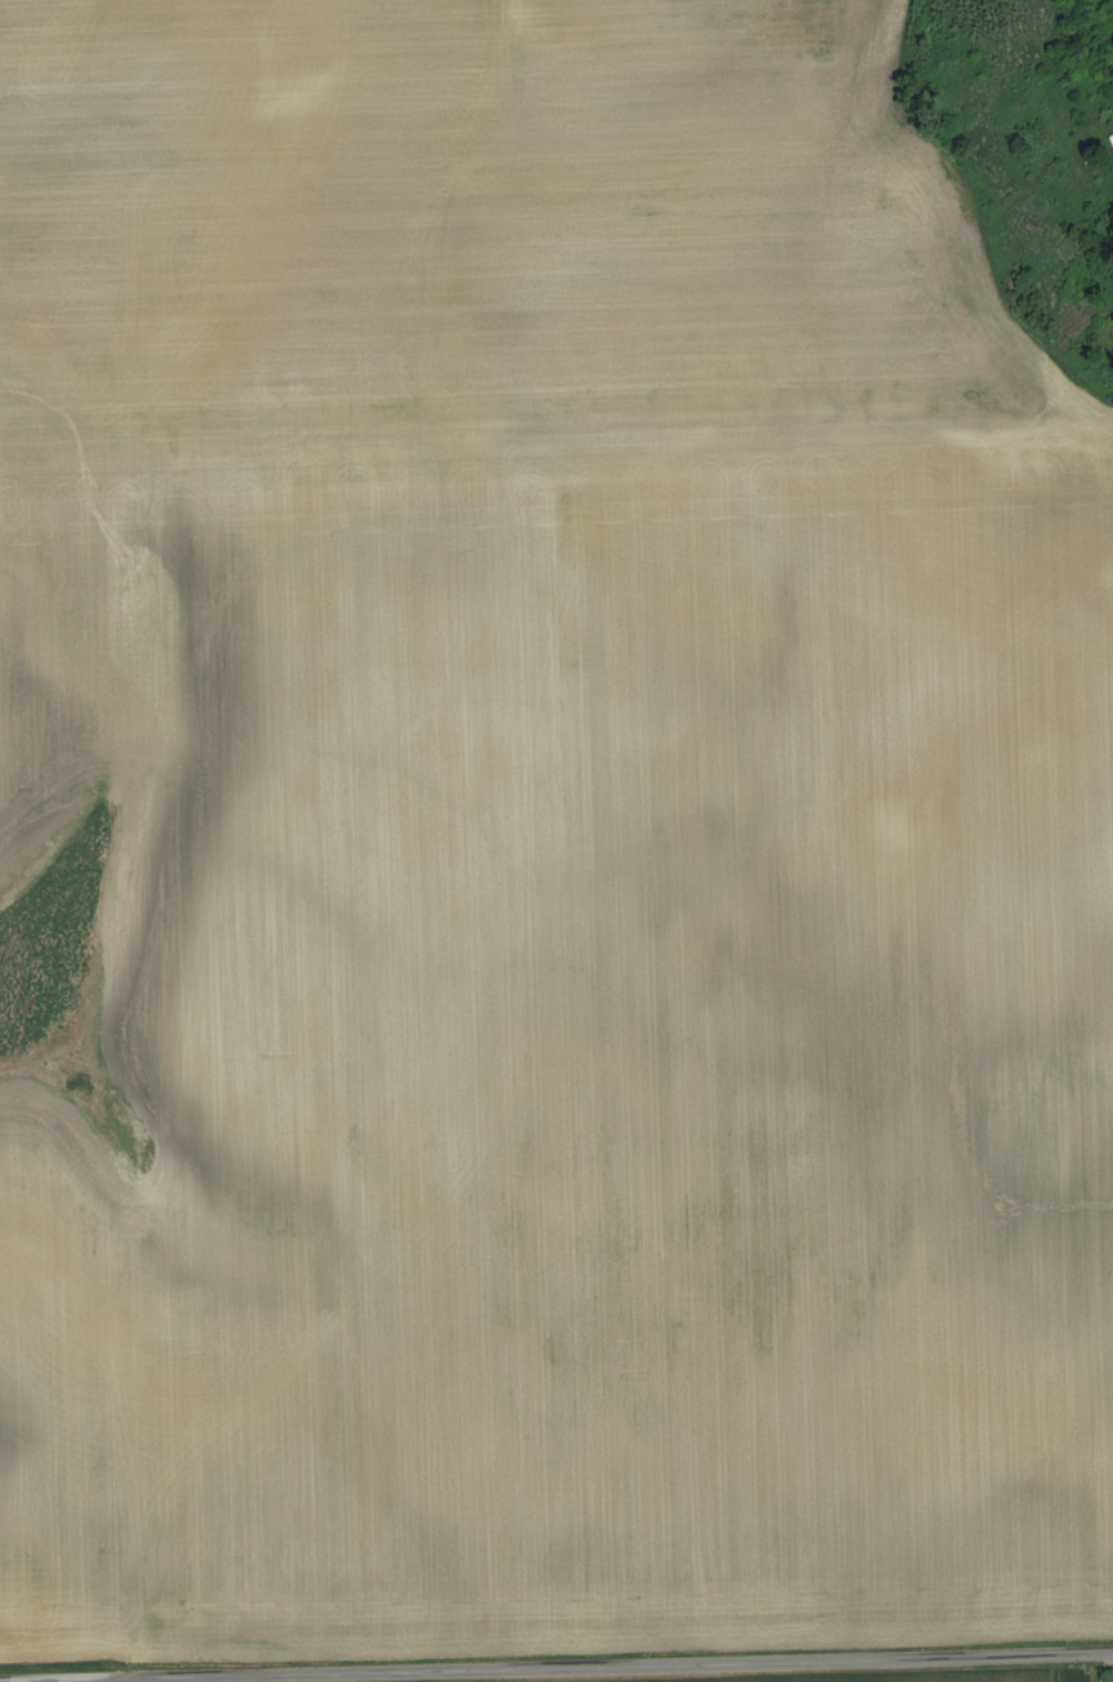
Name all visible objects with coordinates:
road: (605, 1668)

